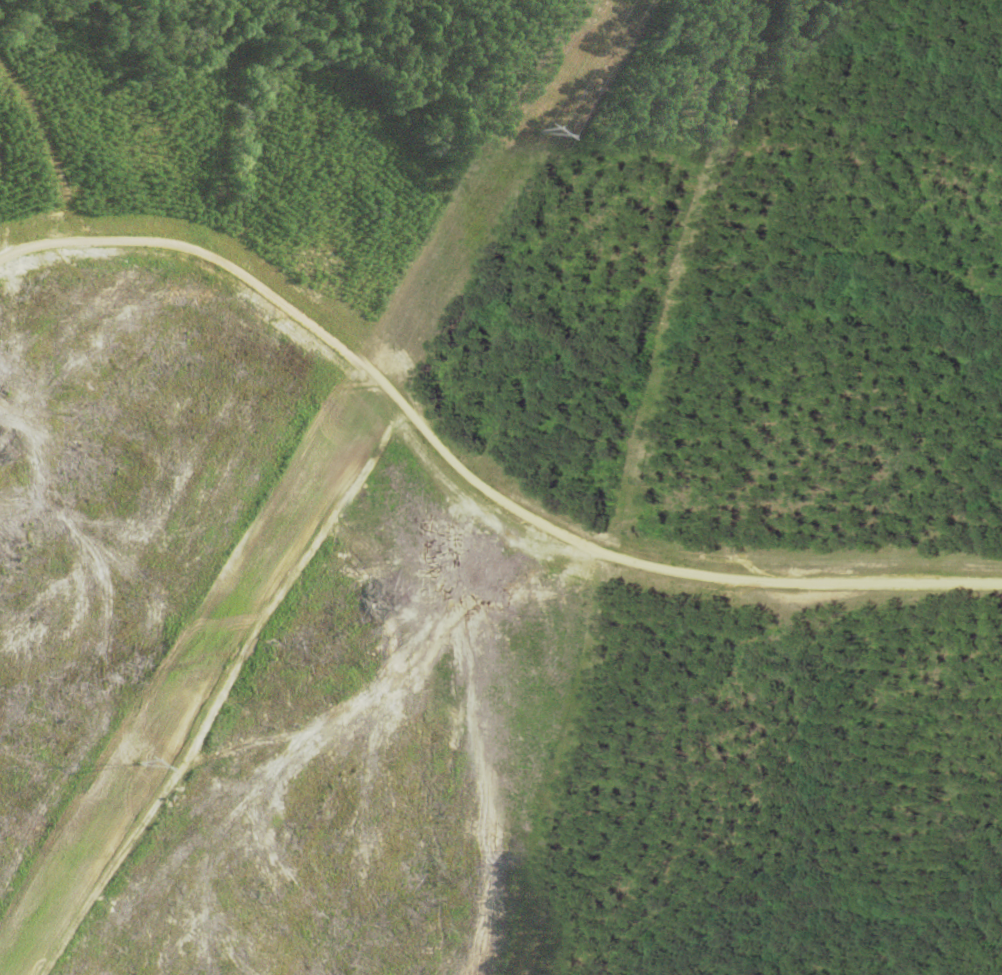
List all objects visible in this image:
power tower: (537, 133)
road: (471, 470)
power tower: (141, 766)

